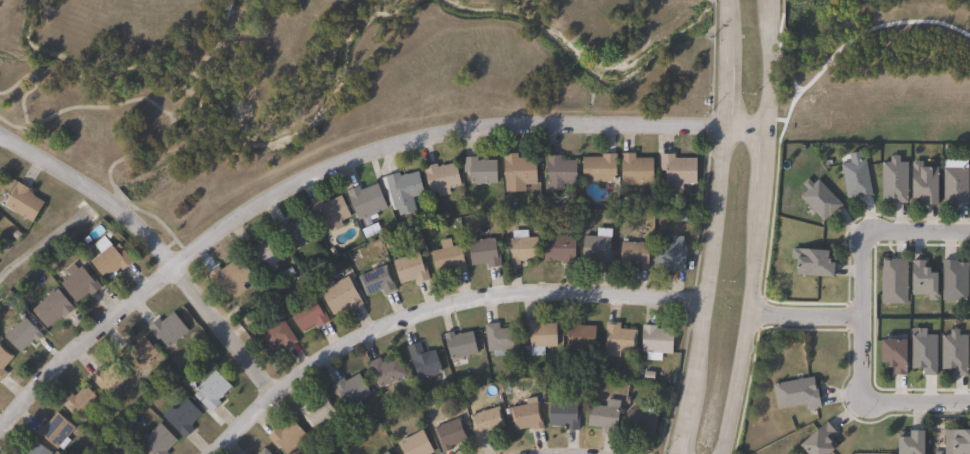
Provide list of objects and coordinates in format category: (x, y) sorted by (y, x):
road: (218, 31)
park: (874, 69)
road: (207, 75)
park: (315, 82)
road: (26, 92)
road: (109, 106)
road: (339, 164)
building: (597, 168)
building: (482, 170)
building: (517, 170)
building: (557, 170)
building: (633, 170)
building: (676, 170)
building: (445, 178)
building: (854, 179)
building: (892, 180)
building: (922, 184)
building: (953, 186)
building: (406, 190)
building: (818, 199)
building: (371, 200)
building: (27, 202)
building: (333, 213)
building: (0, 220)
building: (0, 222)
road: (716, 228)
road: (761, 228)
road: (917, 231)
building: (297, 232)
road: (153, 247)
building: (521, 247)
building: (596, 248)
building: (557, 250)
building: (484, 253)
building: (267, 255)
building: (633, 255)
building: (668, 255)
building: (452, 257)
building: (112, 259)
building: (809, 263)
building: (415, 269)
road: (860, 274)
building: (234, 276)
building: (969, 277)
building: (382, 281)
building: (892, 281)
building: (923, 281)
building: (952, 281)
building: (82, 282)
building: (345, 296)
road: (438, 305)
building: (56, 308)
building: (311, 314)
road: (805, 316)
building: (171, 329)
building: (577, 335)
building: (26, 336)
building: (540, 336)
building: (280, 337)
building: (504, 339)
building: (616, 340)
building: (655, 340)
building: (462, 344)
building: (141, 353)
building: (952, 353)
building: (922, 354)
building: (890, 356)
road: (858, 357)
building: (969, 358)
building: (4, 359)
building: (426, 361)
building: (389, 372)
building: (111, 378)
building: (354, 390)
building: (215, 391)
building: (794, 394)
building: (84, 403)
road: (914, 404)
building: (320, 412)
building: (530, 415)
building: (563, 416)
building: (601, 417)
building: (186, 418)
building: (490, 423)
building: (639, 424)
building: (58, 431)
building: (453, 432)
building: (291, 439)
building: (162, 440)
building: (817, 441)
building: (958, 443)
building: (419, 444)
building: (907, 444)
building: (39, 450)
building: (24, 452)
building: (261, 452)
building: (268, 452)
building: (137, 453)
building: (384, 453)
building: (389, 453)

